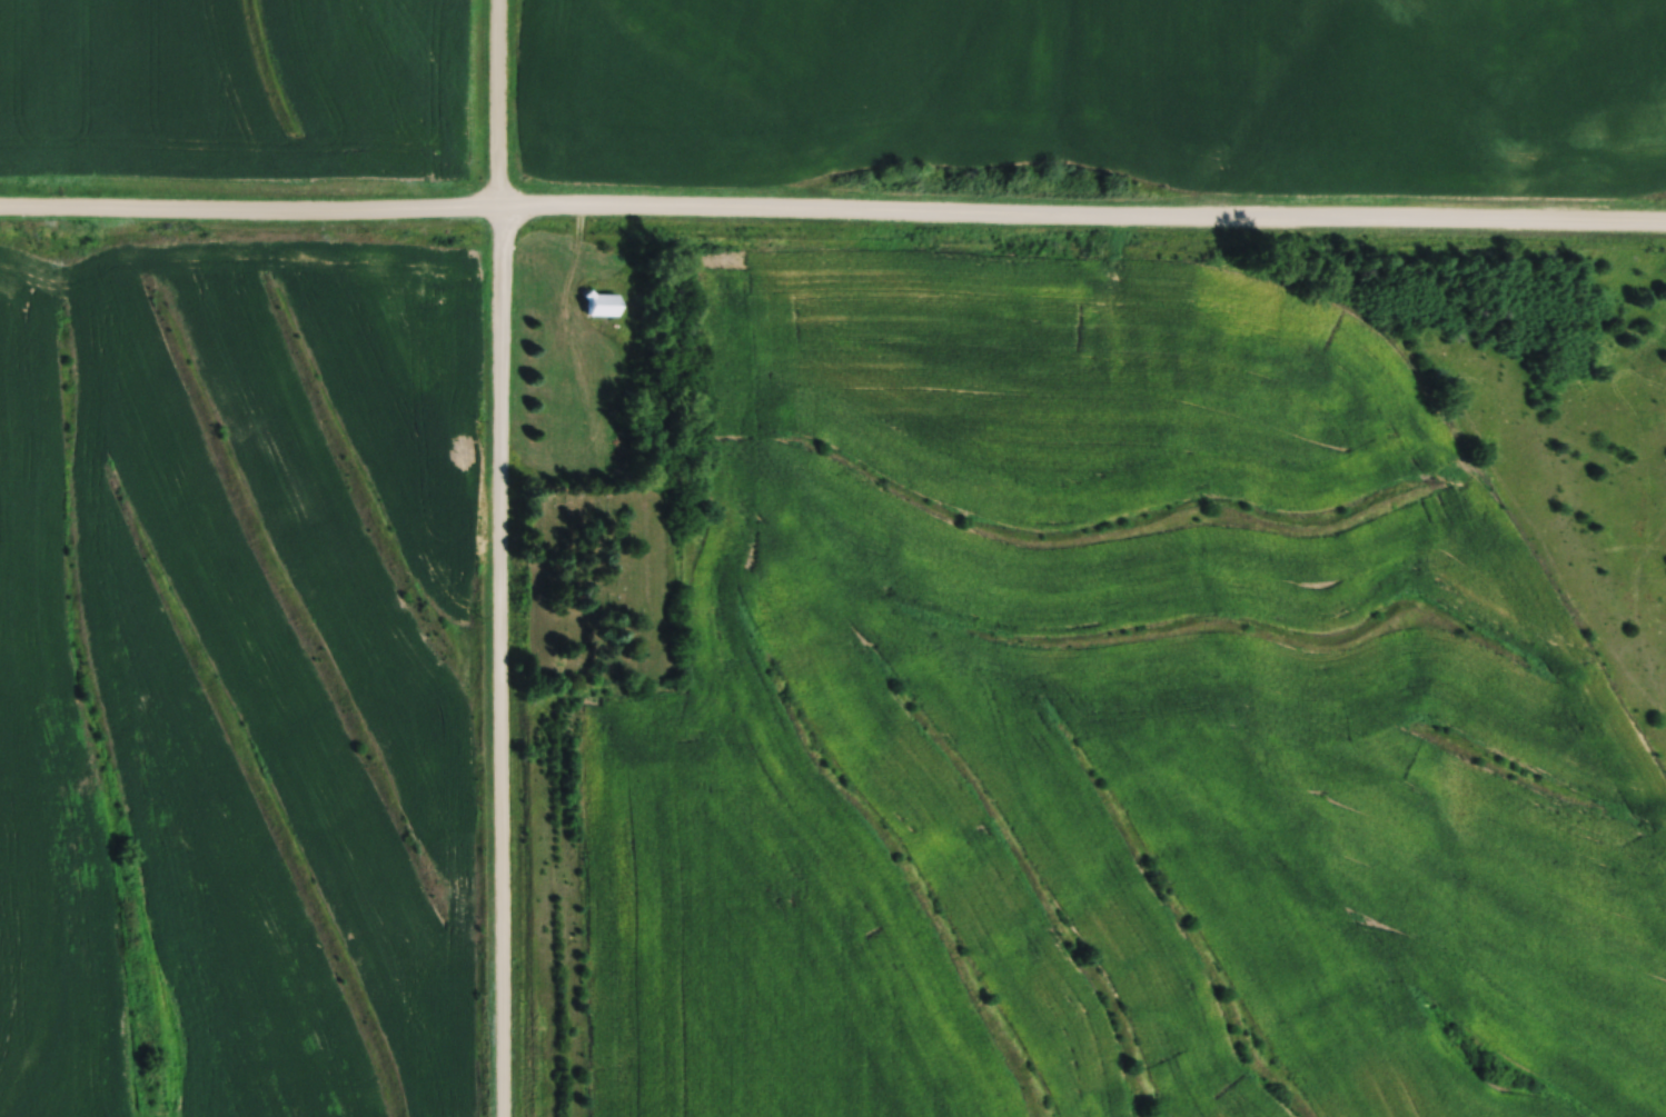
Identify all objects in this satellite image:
road: (497, 104)
road: (249, 212)
road: (1082, 222)
building: (606, 303)
road: (499, 662)

